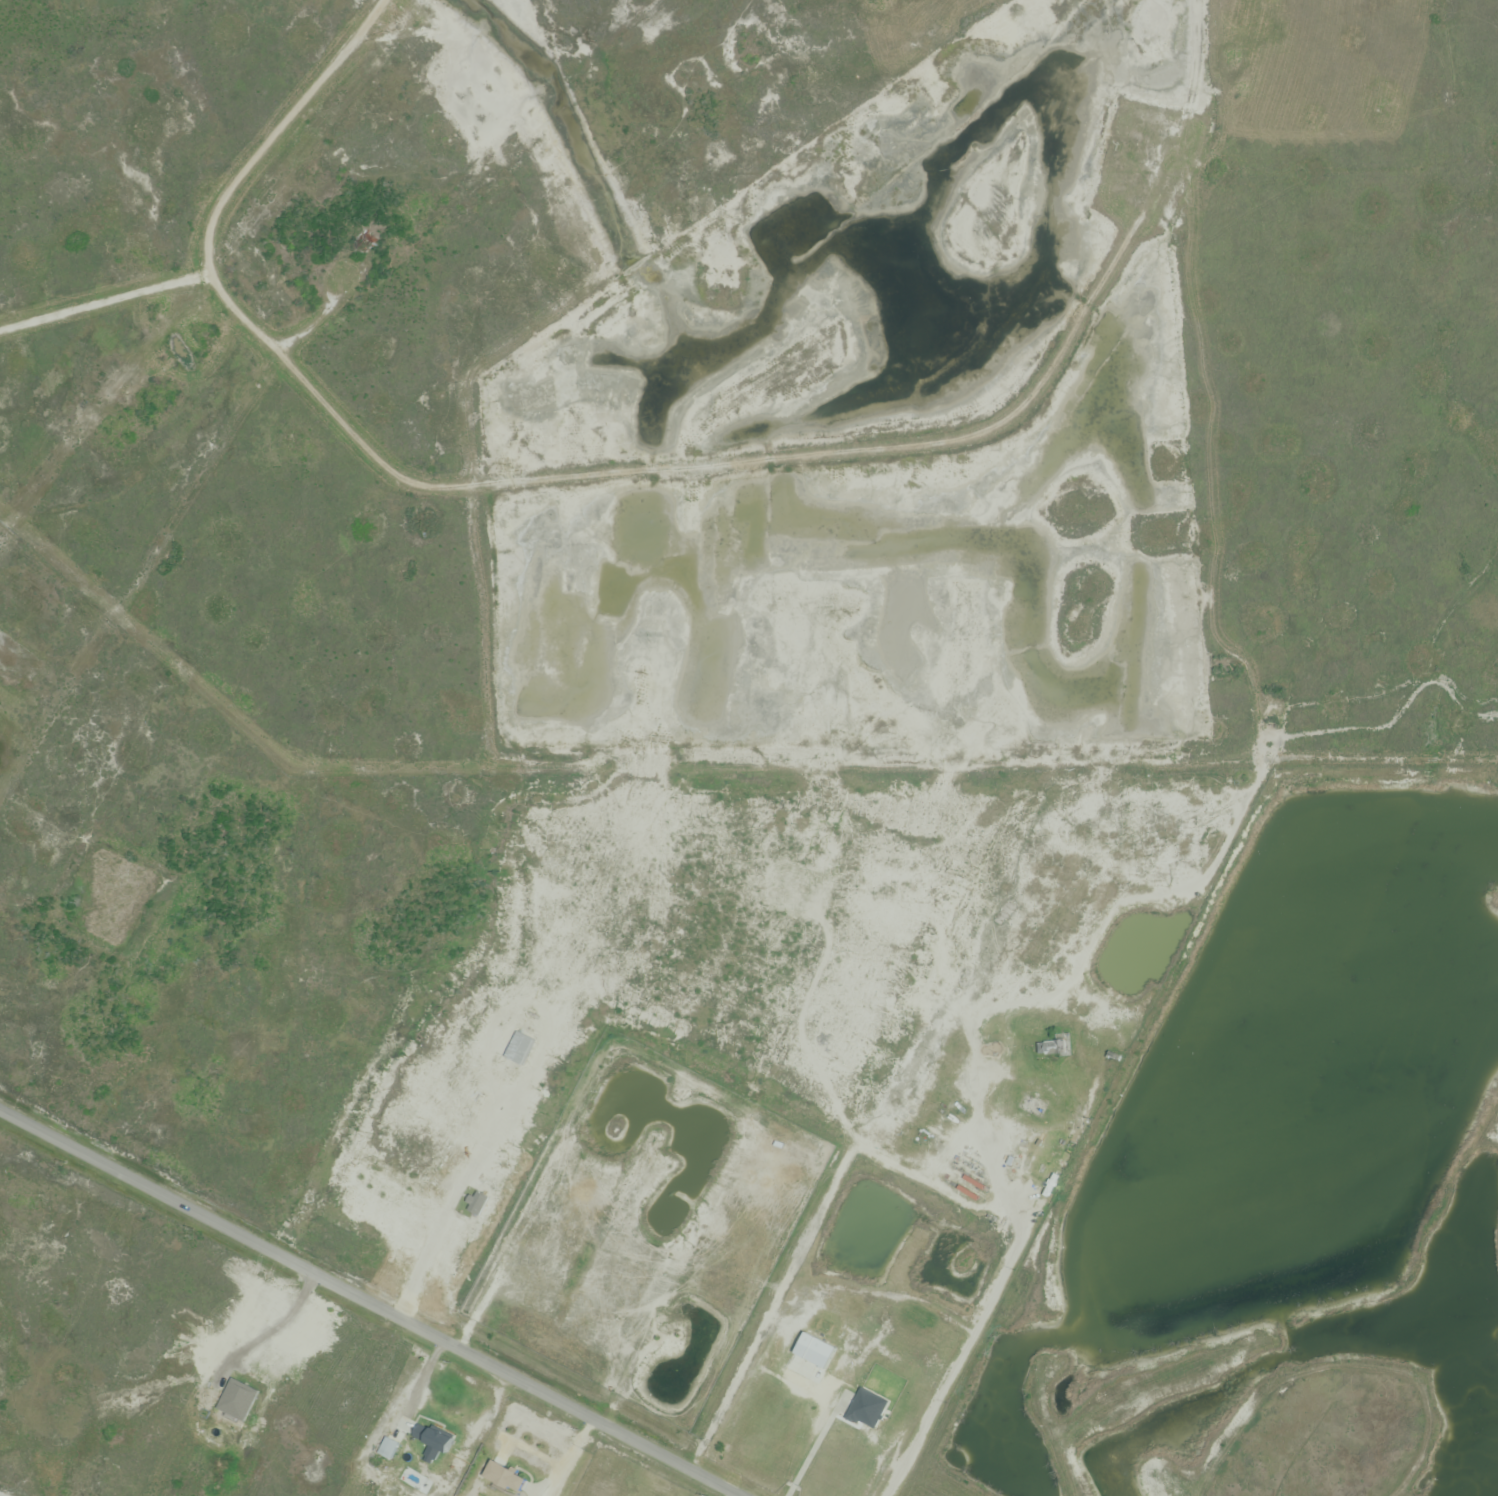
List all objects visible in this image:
building: (367, 239)
building: (1050, 1049)
road: (1002, 1273)
road: (368, 1304)
road: (277, 1324)
building: (866, 1411)
road: (813, 1443)
building: (506, 1480)
road: (732, 1495)

